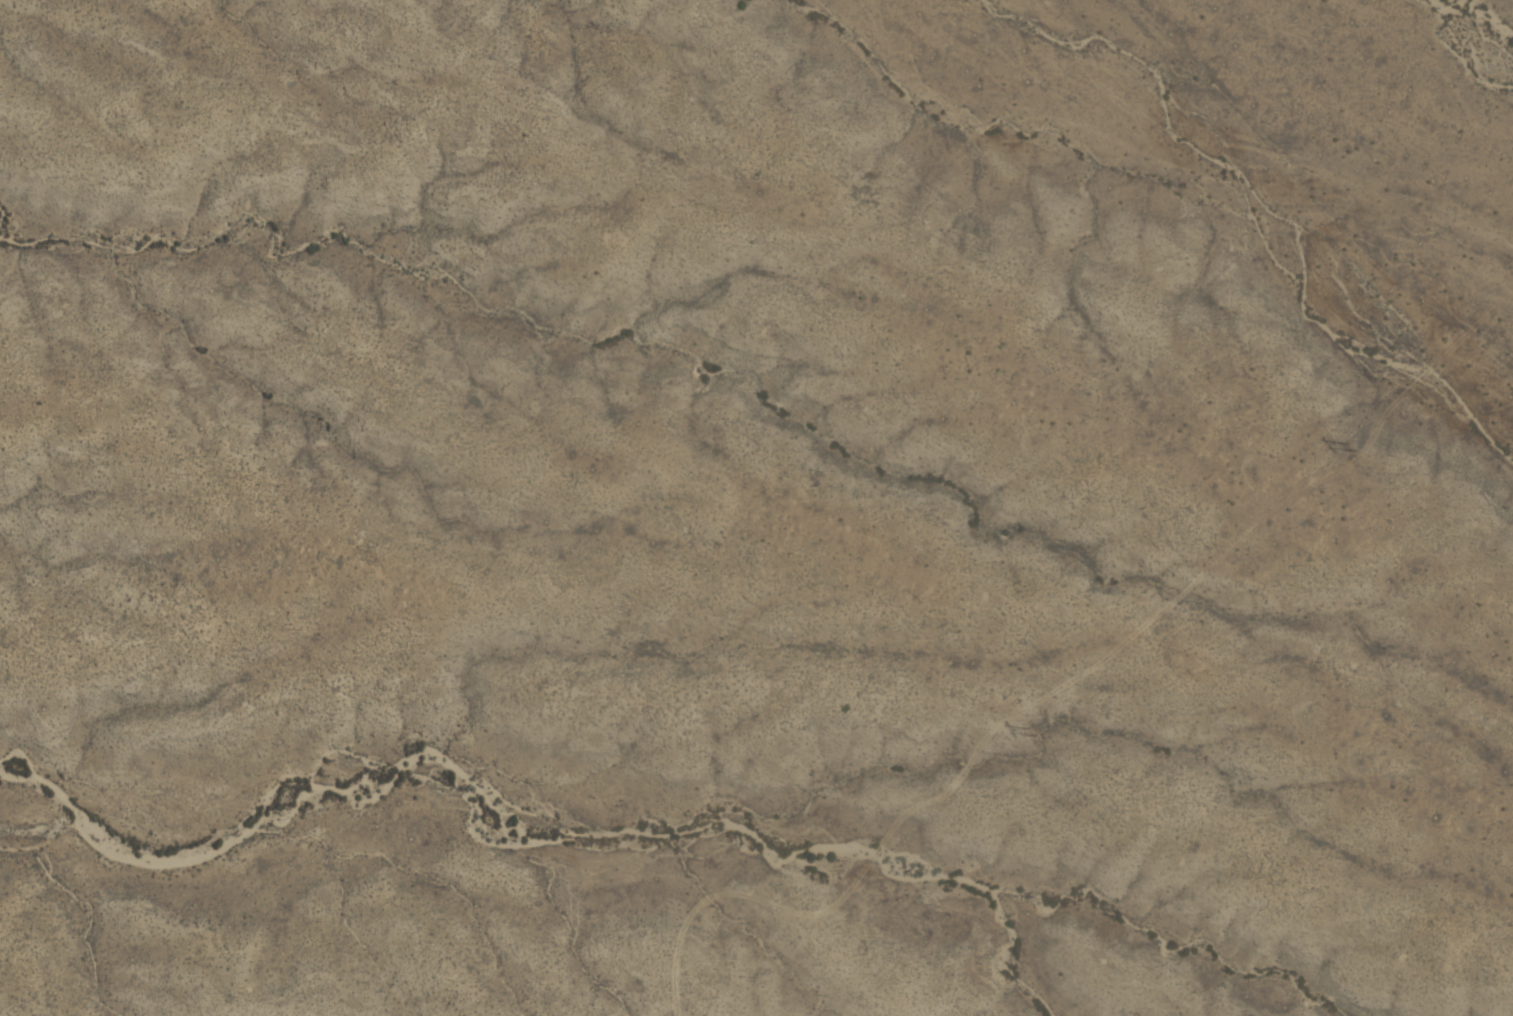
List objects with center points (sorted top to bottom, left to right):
power tower: (1349, 446)
power tower: (1037, 732)

